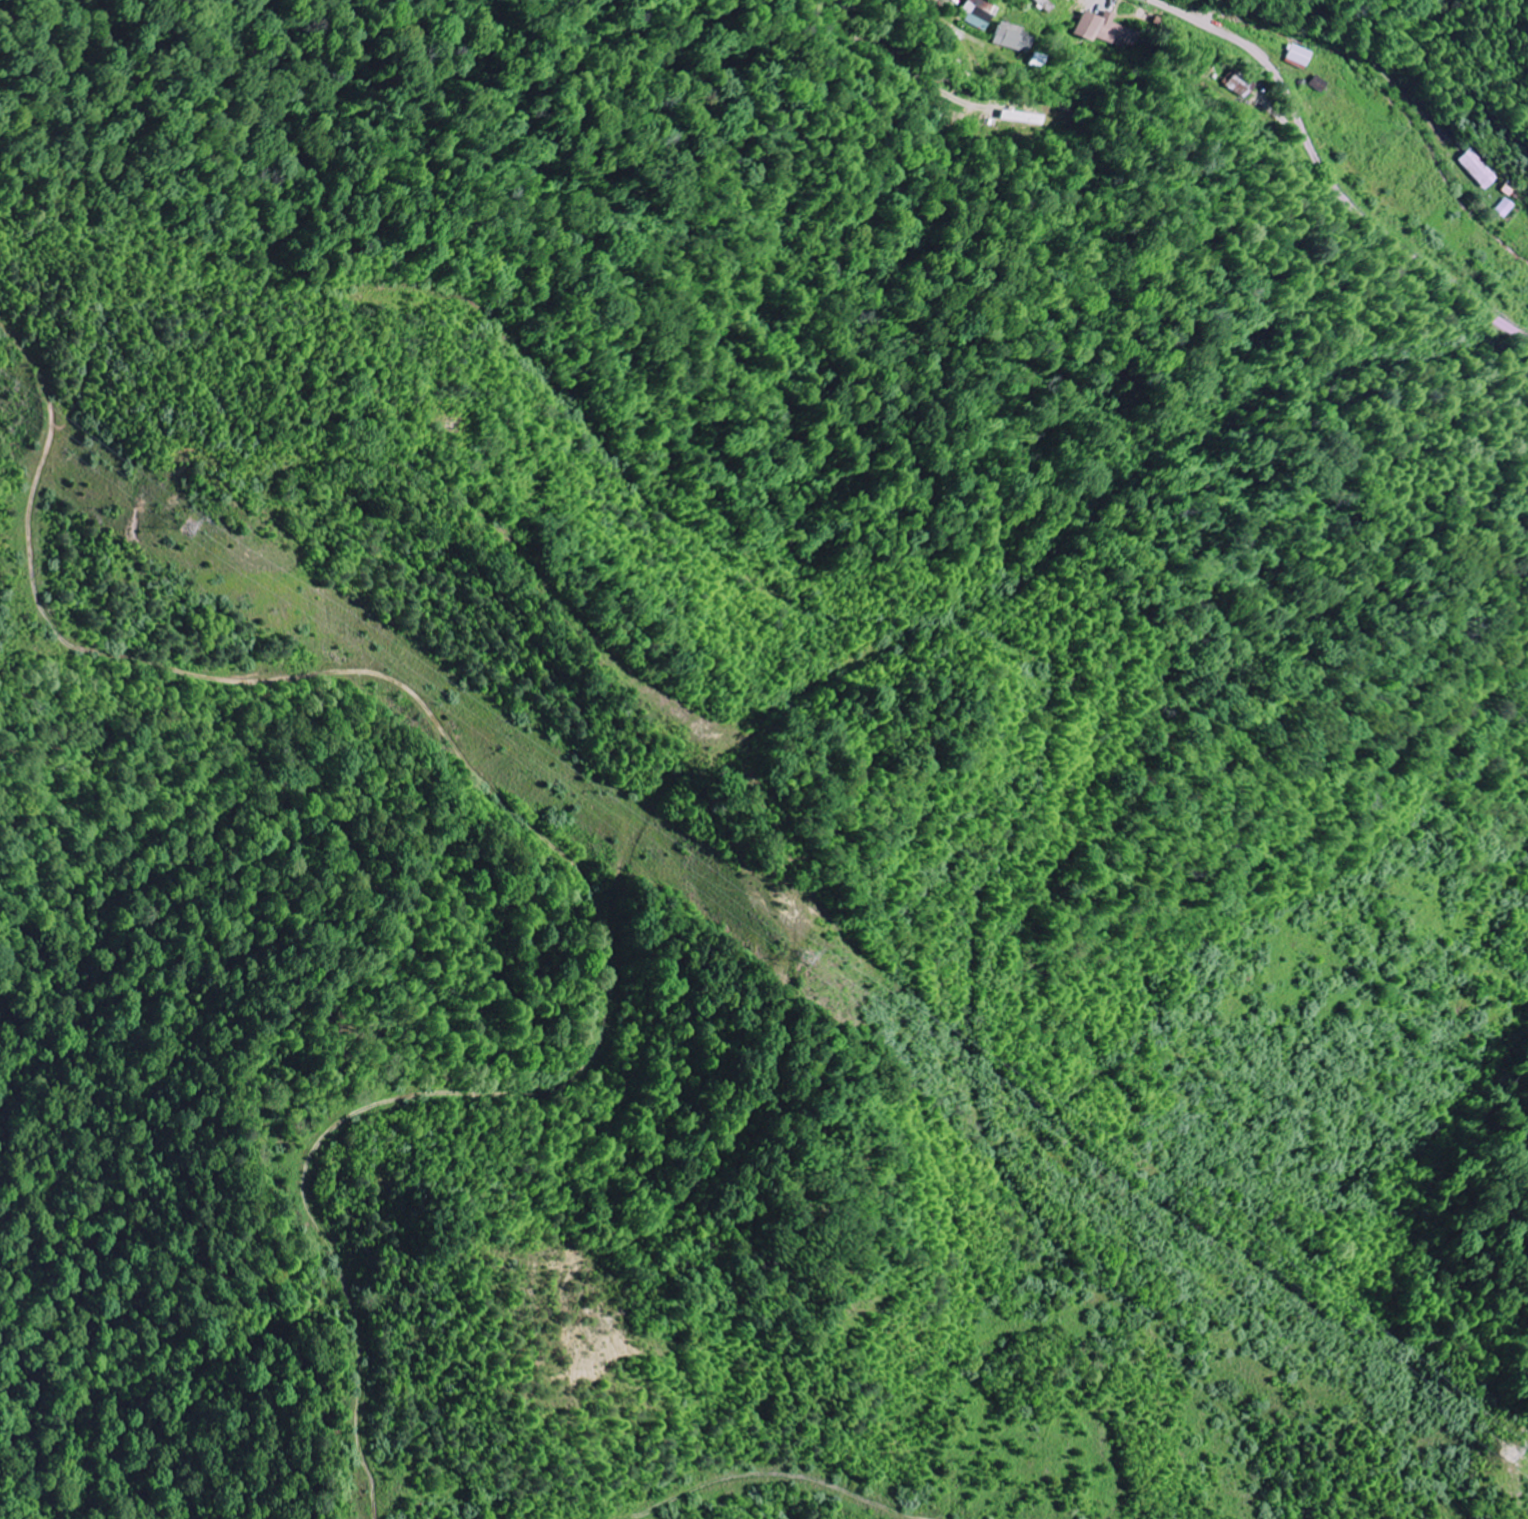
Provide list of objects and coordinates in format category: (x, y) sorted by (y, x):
road: (857, 5)
building: (979, 14)
building: (1100, 29)
building: (1010, 38)
building: (1298, 56)
building: (1238, 85)
building: (1478, 169)
road: (1329, 173)
building: (1504, 208)

